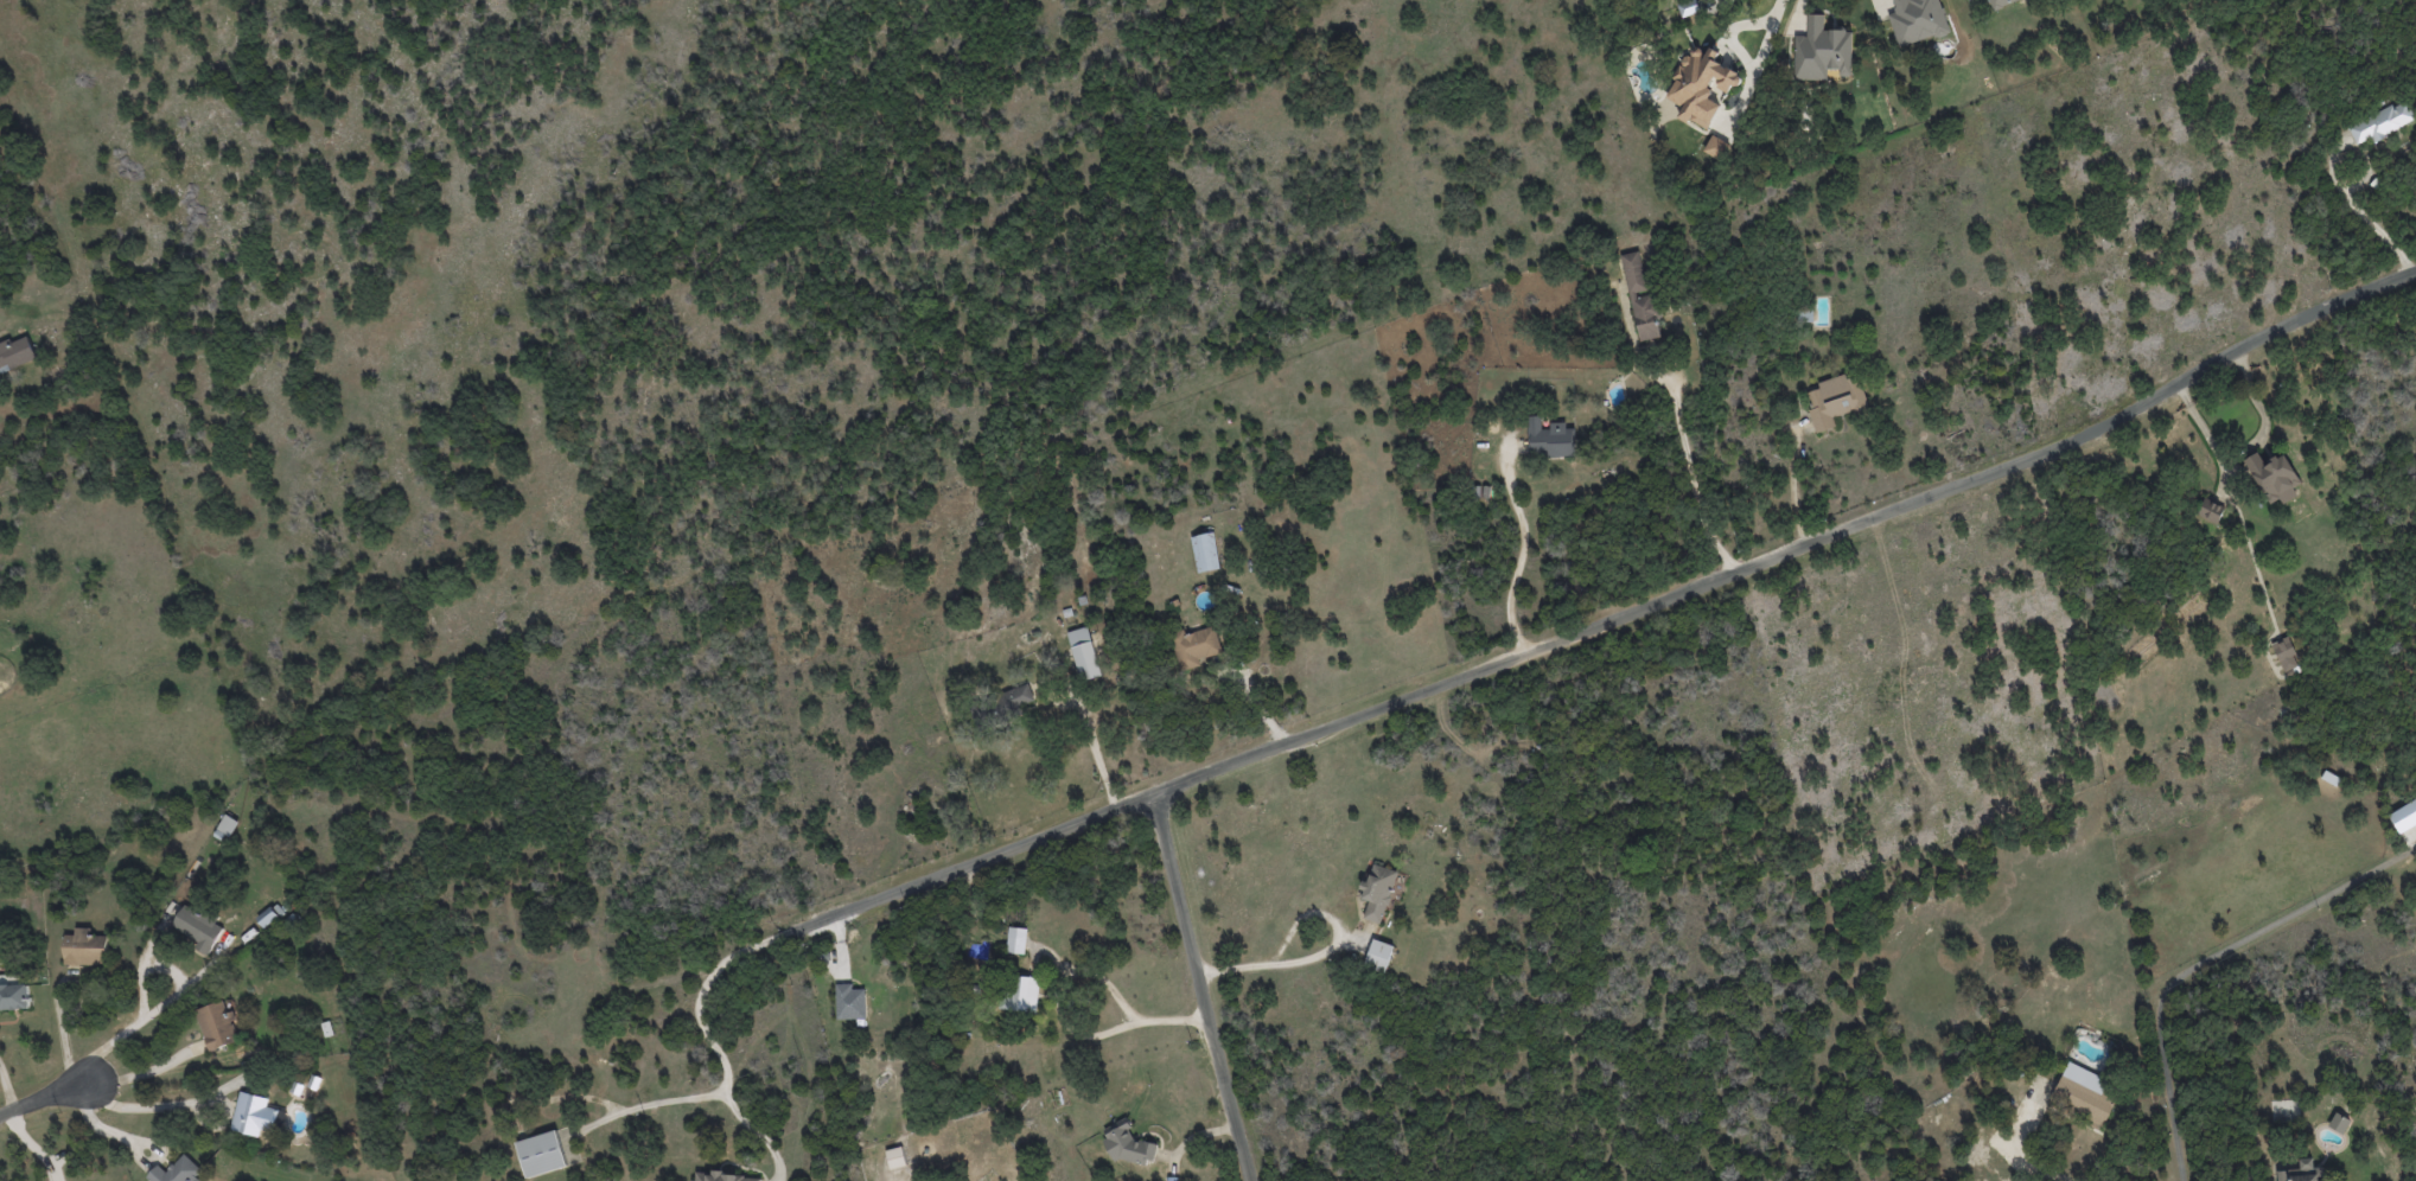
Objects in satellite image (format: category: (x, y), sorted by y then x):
building: (1999, 2)
building: (1688, 7)
road: (1779, 8)
building: (1917, 20)
road: (1741, 49)
building: (1822, 51)
building: (1701, 87)
building: (2382, 122)
building: (1715, 146)
road: (2337, 185)
building: (1640, 298)
building: (1804, 315)
building: (15, 353)
building: (1835, 400)
building: (1549, 439)
road: (1687, 453)
building: (2272, 478)
building: (2210, 510)
road: (1521, 550)
building: (1205, 551)
road: (1612, 620)
building: (1194, 645)
building: (1084, 653)
building: (2284, 653)
building: (1015, 698)
building: (227, 825)
building: (1377, 892)
building: (267, 917)
building: (197, 927)
building: (1016, 940)
building: (85, 949)
building: (1378, 956)
road: (2203, 960)
road: (1279, 965)
road: (1201, 988)
building: (1021, 992)
building: (14, 996)
building: (849, 1002)
road: (152, 1010)
building: (217, 1024)
road: (1066, 1026)
road: (708, 1038)
road: (147, 1070)
road: (7, 1091)
building: (2084, 1092)
road: (43, 1102)
road: (651, 1105)
road: (147, 1107)
building: (254, 1115)
building: (2339, 1122)
building: (1124, 1143)
building: (541, 1154)
building: (895, 1157)
road: (2033, 1162)
building: (177, 1170)
building: (2302, 1172)
building: (723, 1177)

